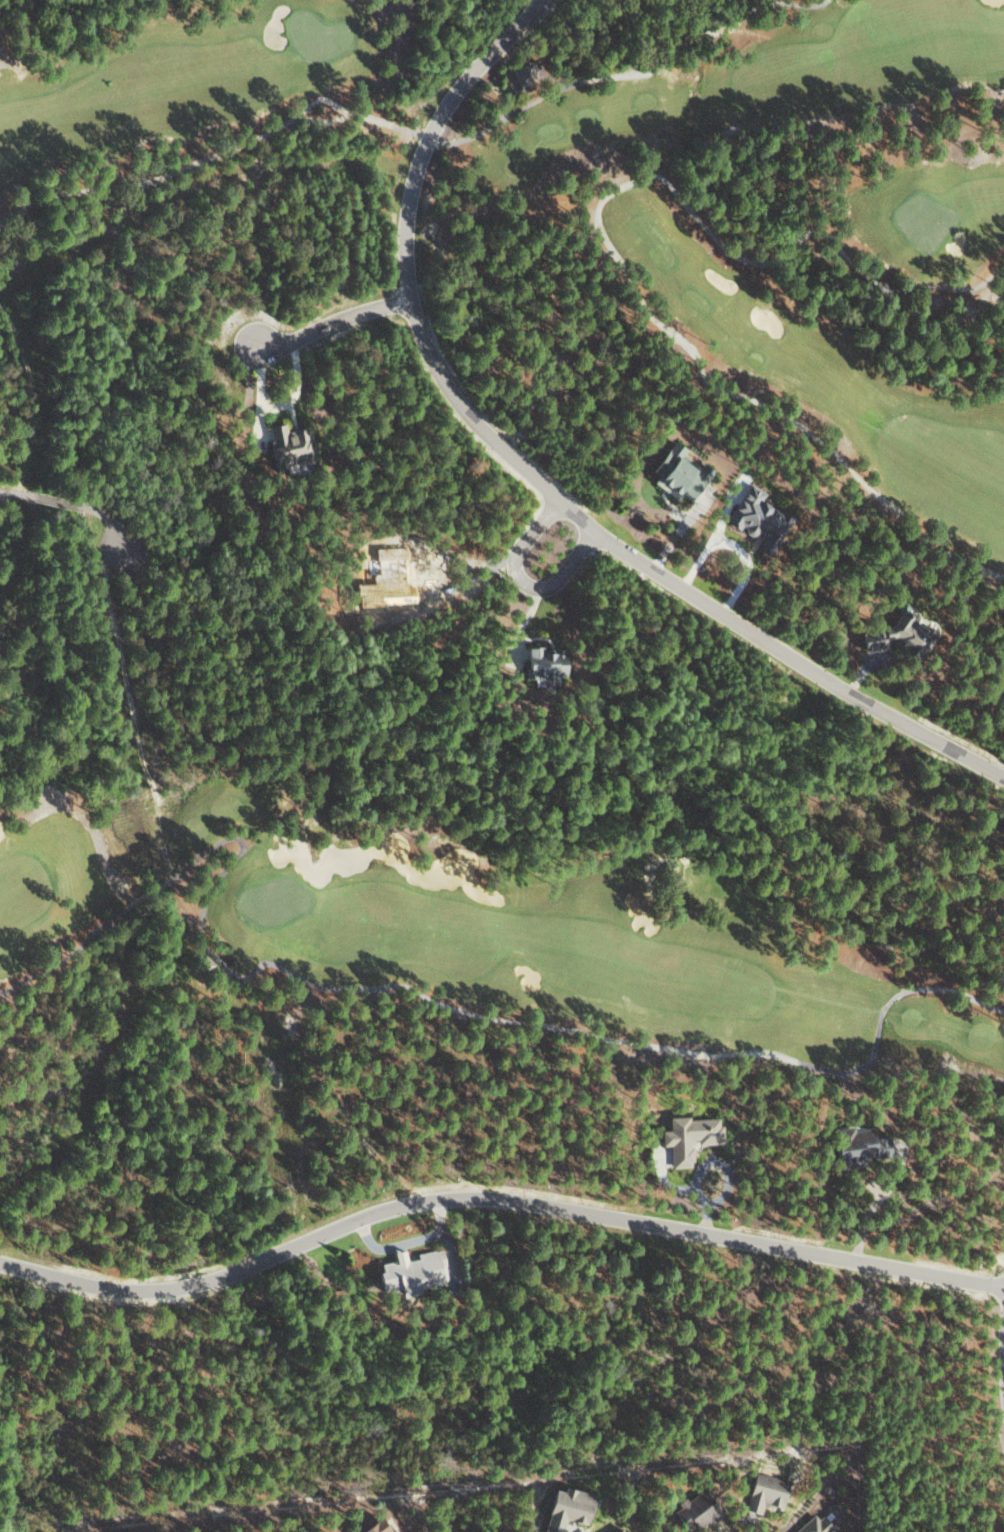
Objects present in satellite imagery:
building: (521, 72)
park: (628, 187)
road: (329, 324)
building: (286, 445)
building: (676, 472)
road: (527, 477)
building: (756, 520)
road: (518, 581)
building: (893, 637)
building: (541, 665)
park: (466, 929)
building: (685, 1136)
building: (856, 1146)
road: (495, 1202)
building: (417, 1271)
road: (1001, 1365)
building: (763, 1492)
building: (563, 1508)
building: (693, 1511)
building: (812, 1524)
building: (370, 1527)
building: (615, 1530)

